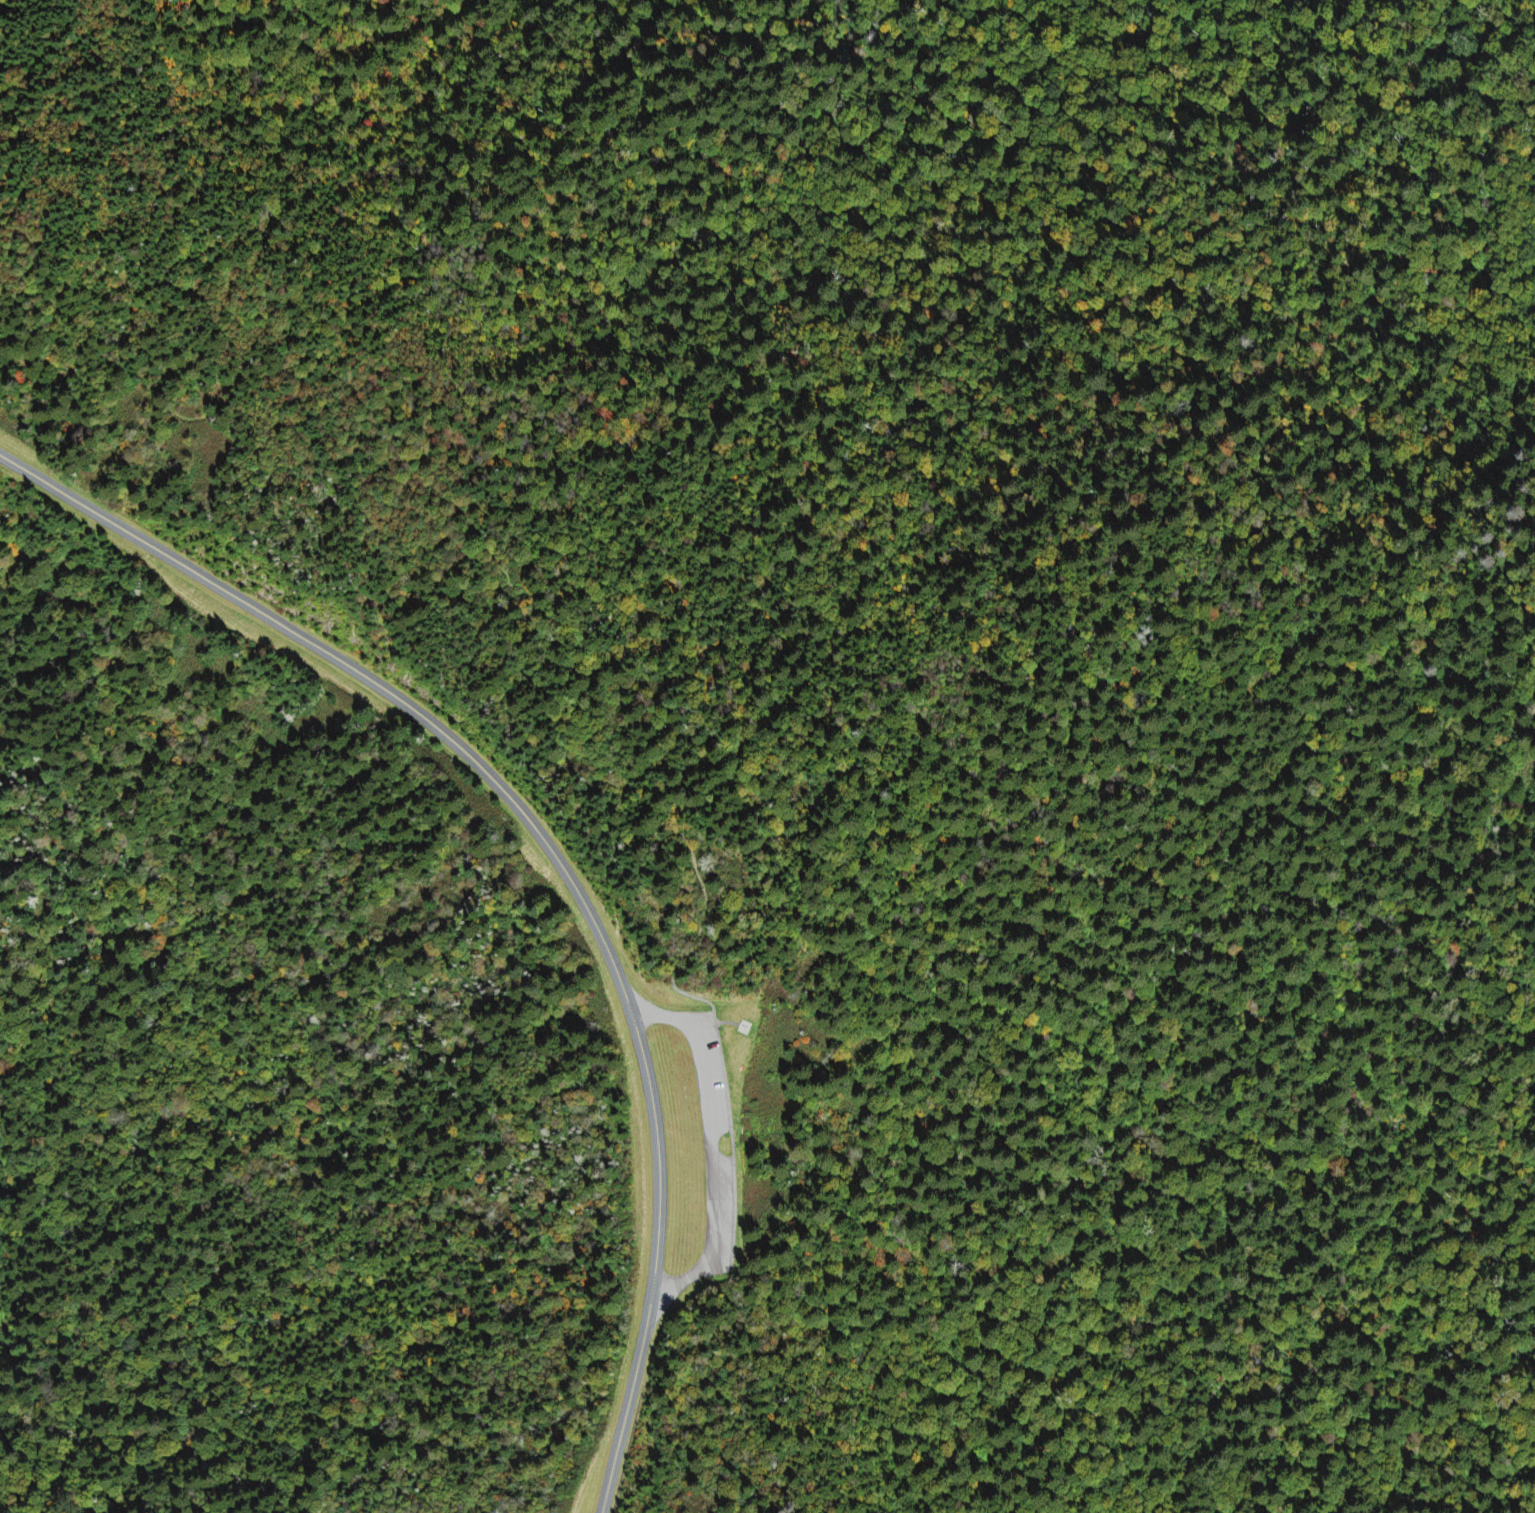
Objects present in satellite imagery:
road: (310, 289)
road: (259, 440)
road: (664, 778)
road: (554, 854)
road: (730, 1023)
road: (718, 1141)
parking lot: (714, 1142)

